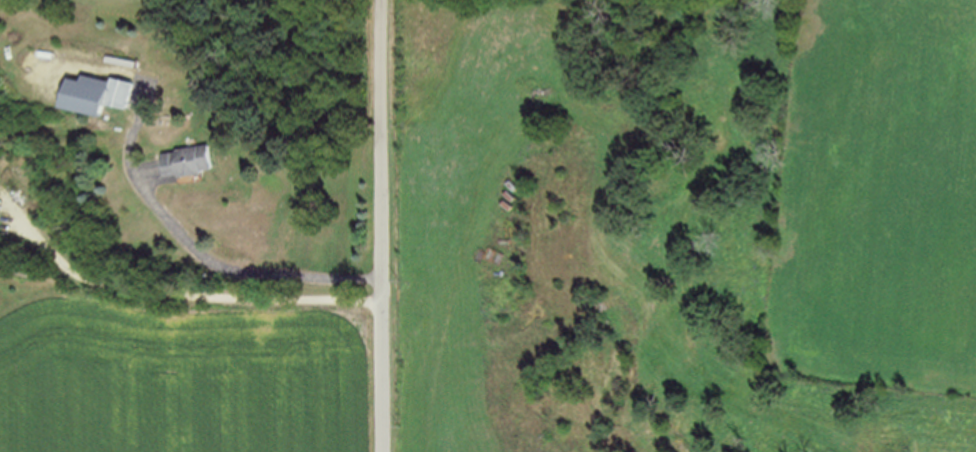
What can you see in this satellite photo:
building: (103, 93)
building: (195, 163)
crop: (878, 200)
building: (0, 212)
road: (170, 220)
road: (382, 225)
road: (175, 292)

